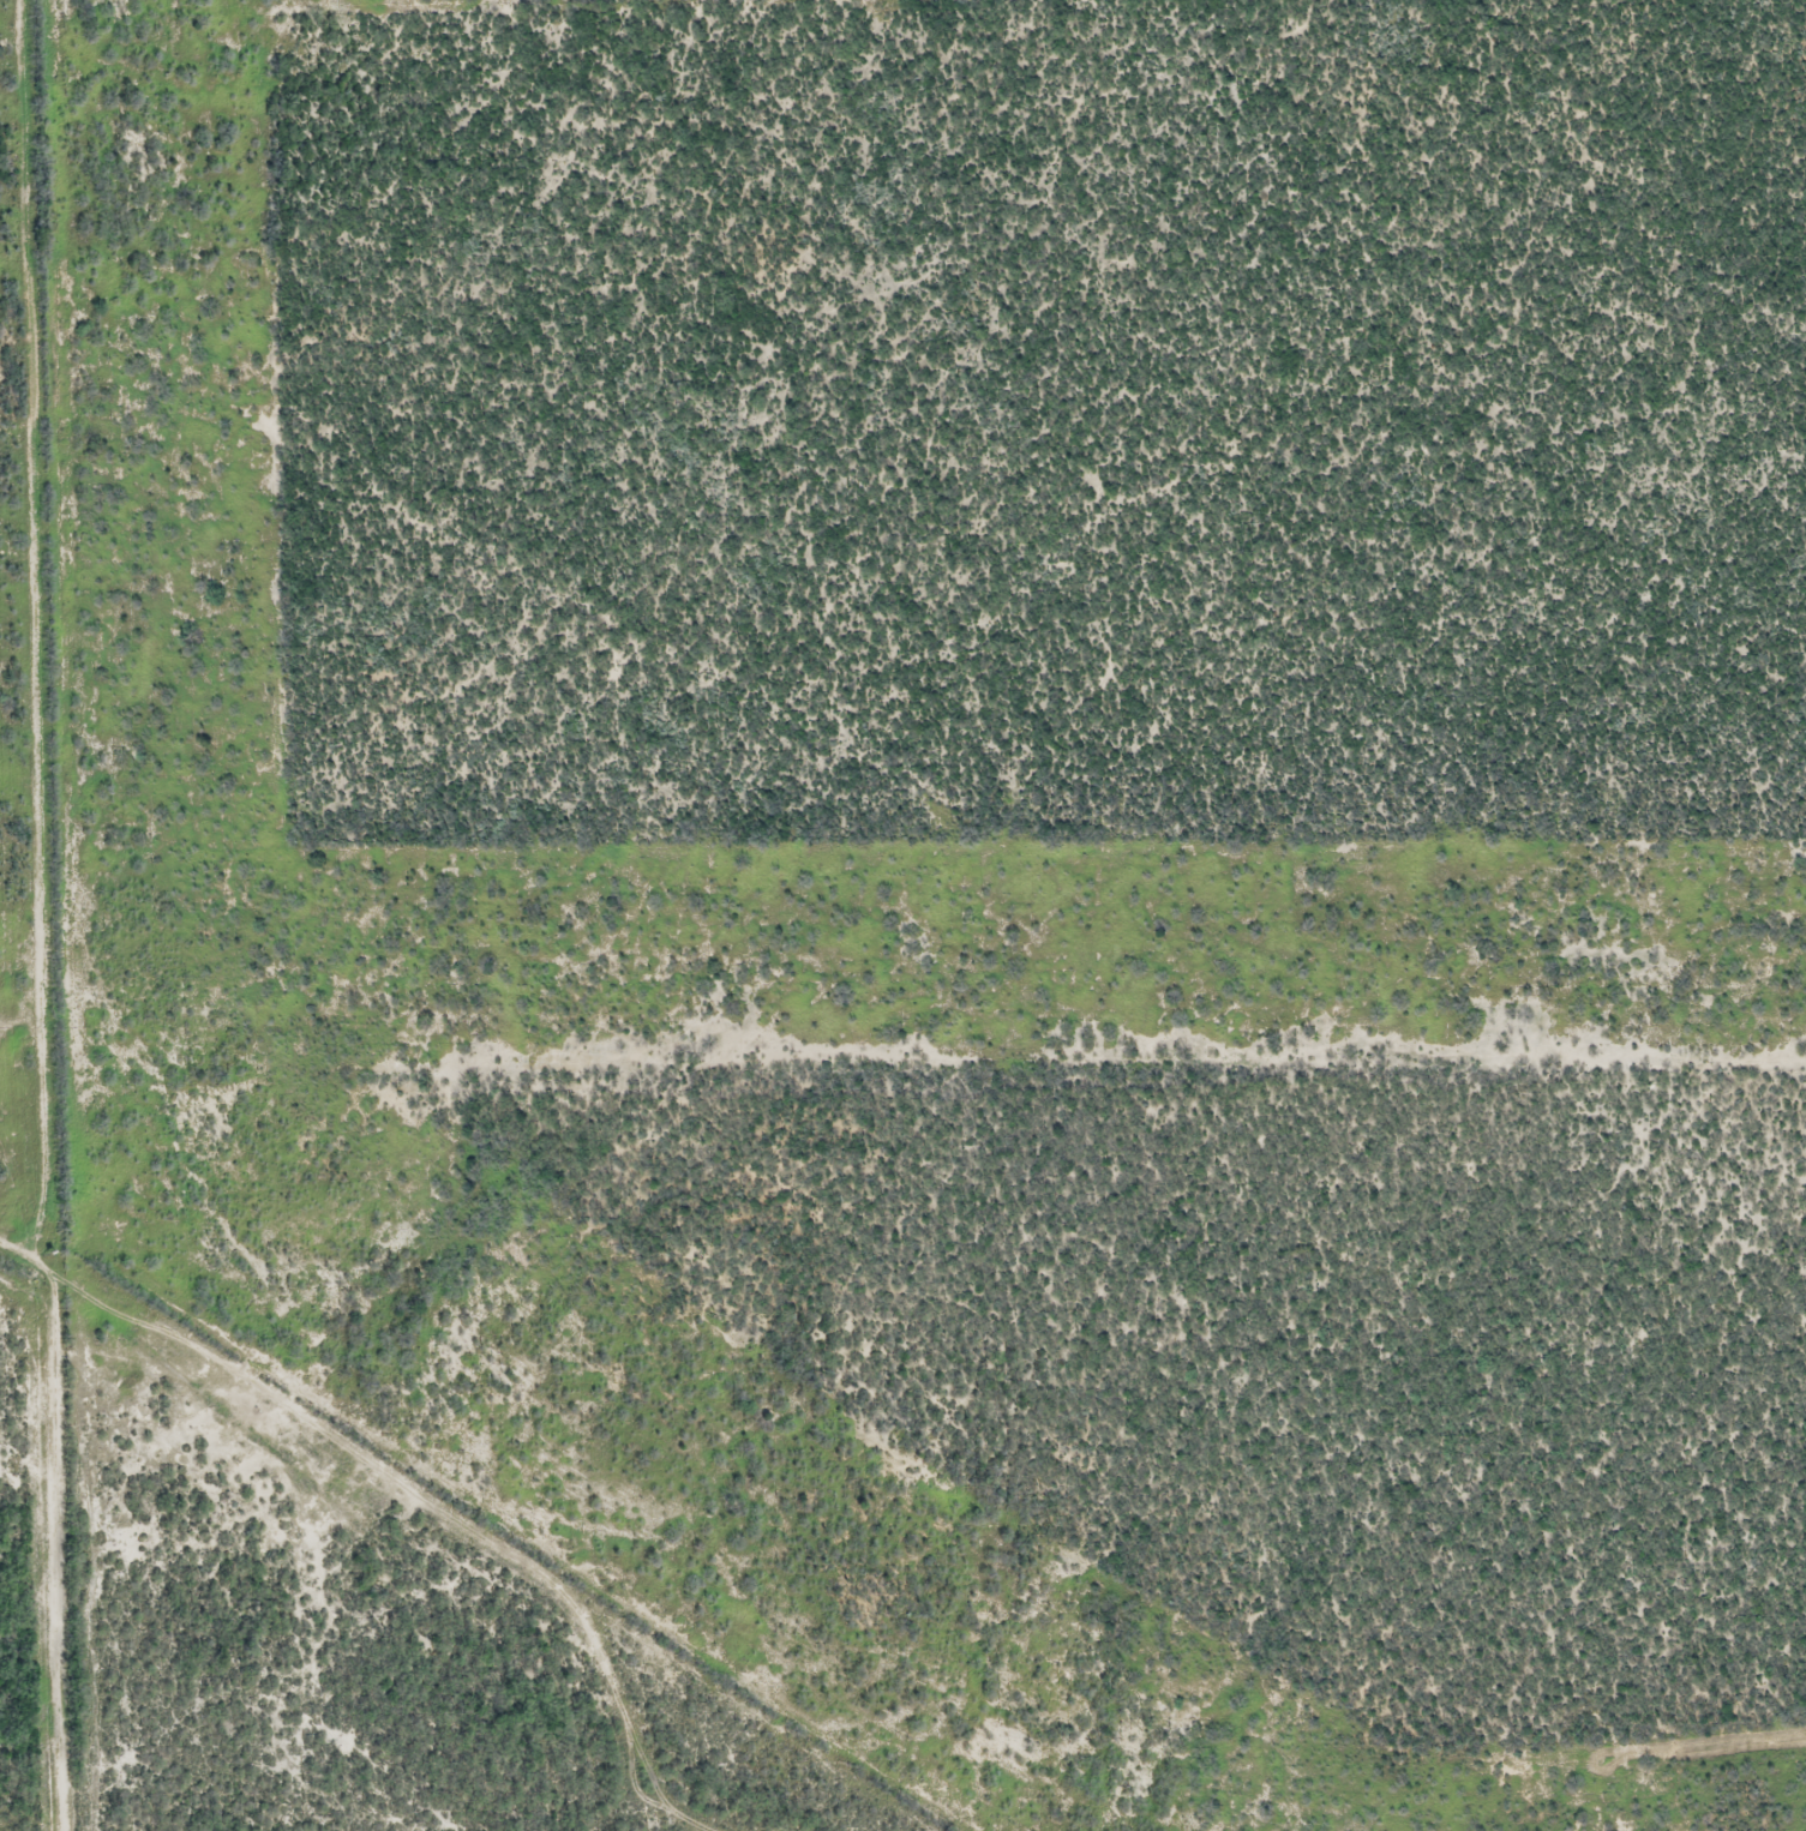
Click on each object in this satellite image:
road: (364, 1554)

